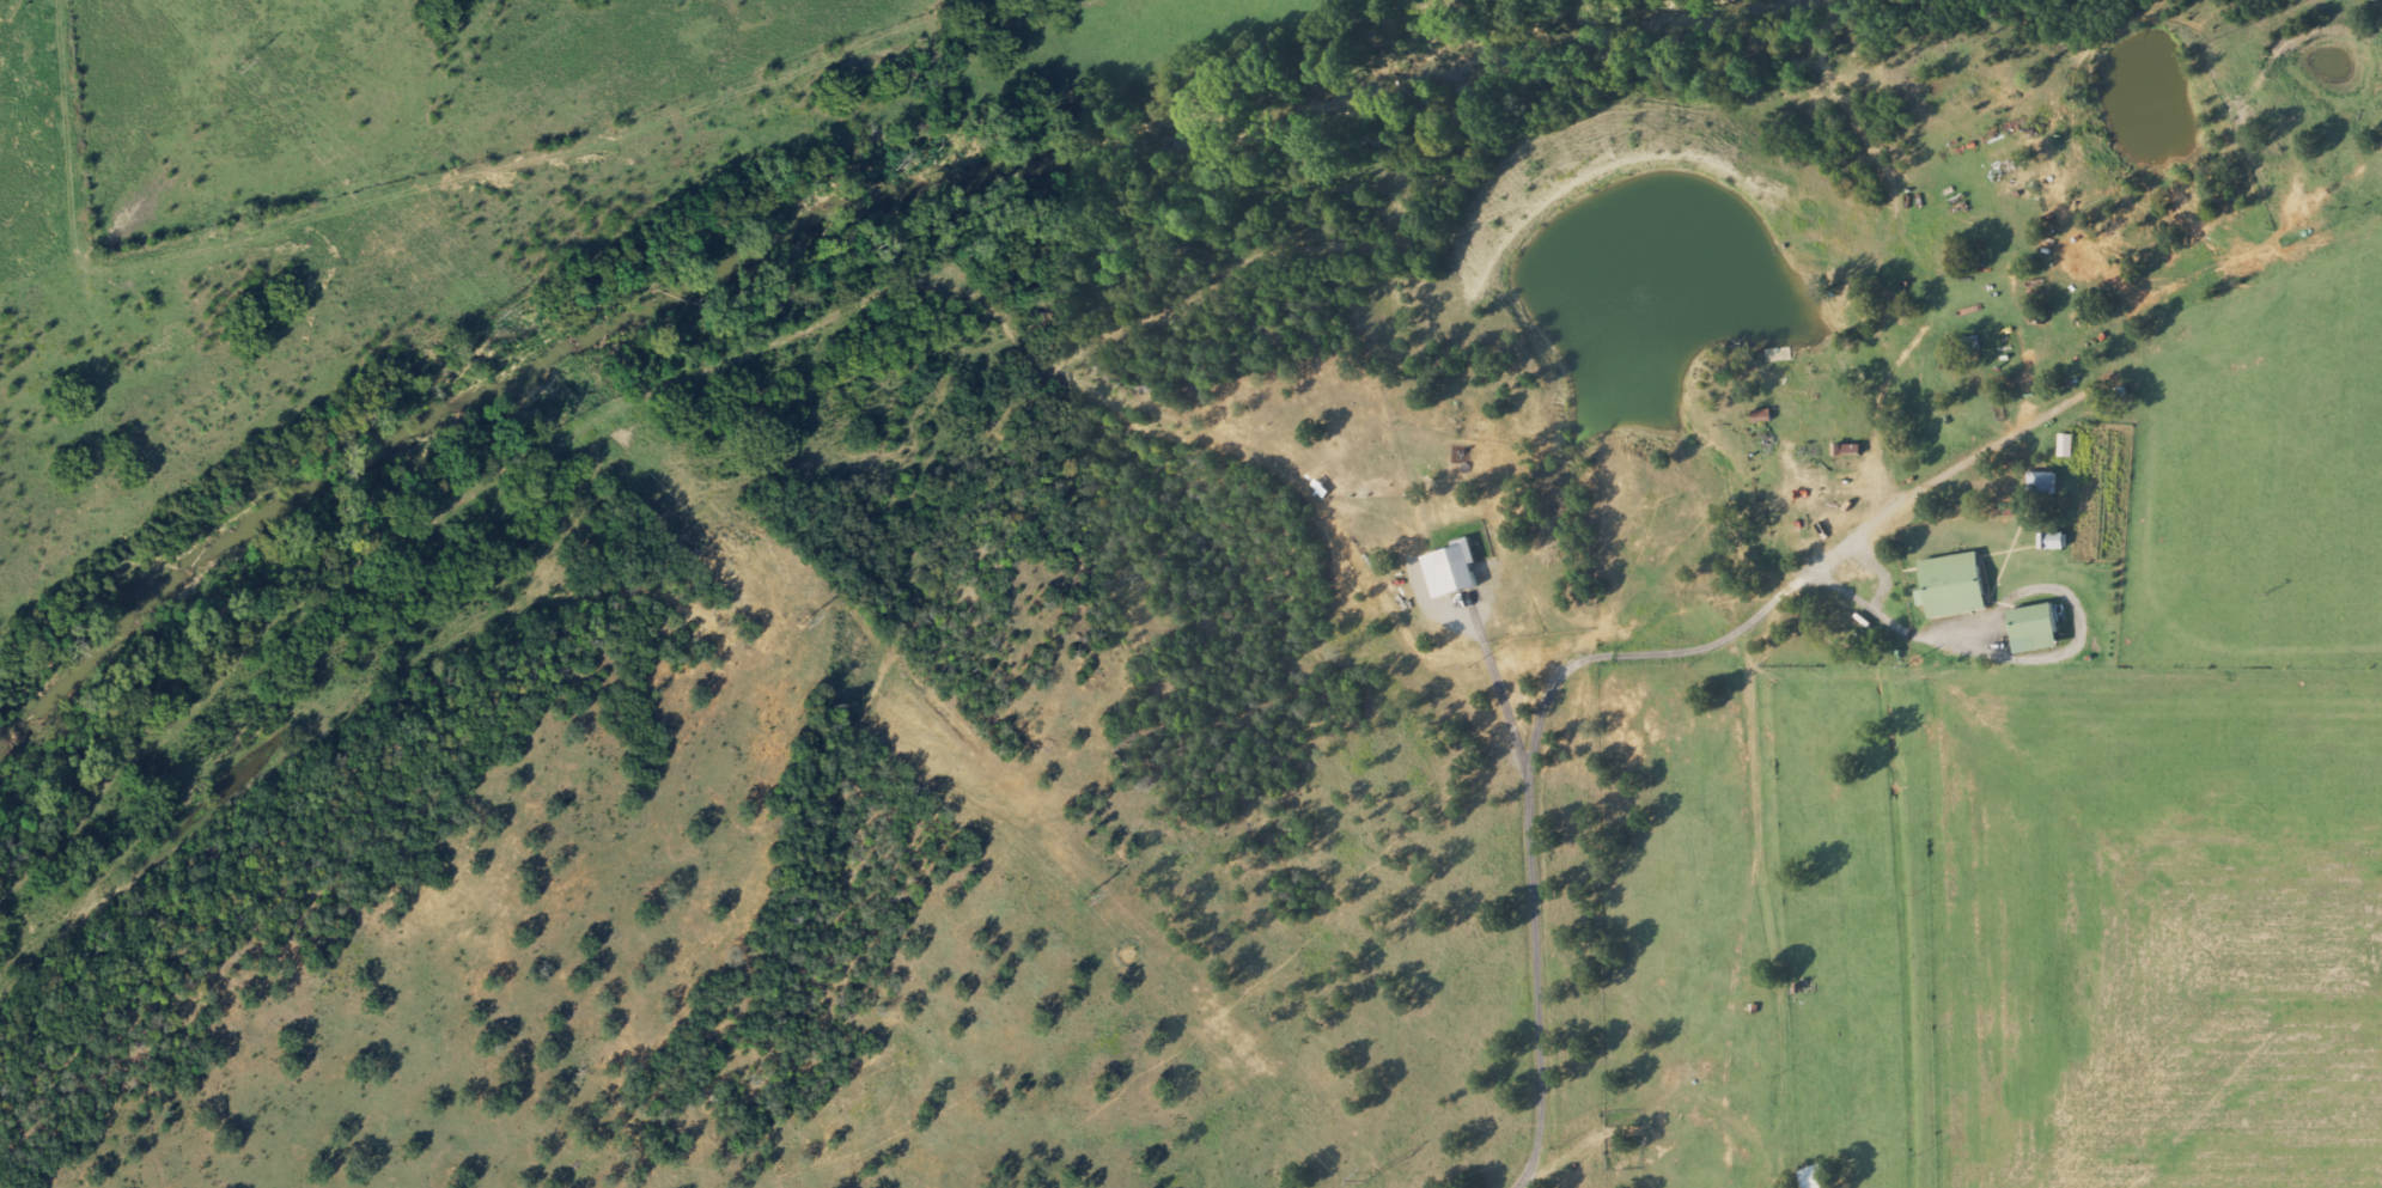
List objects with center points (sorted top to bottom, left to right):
building: (1759, 415)
building: (2063, 445)
building: (2039, 482)
building: (2048, 541)
building: (1949, 585)
building: (2030, 629)
road: (1594, 657)
road: (2065, 677)
road: (1518, 772)
road: (1756, 834)
road: (1260, 1030)
road: (1722, 1113)
building: (1809, 1177)

